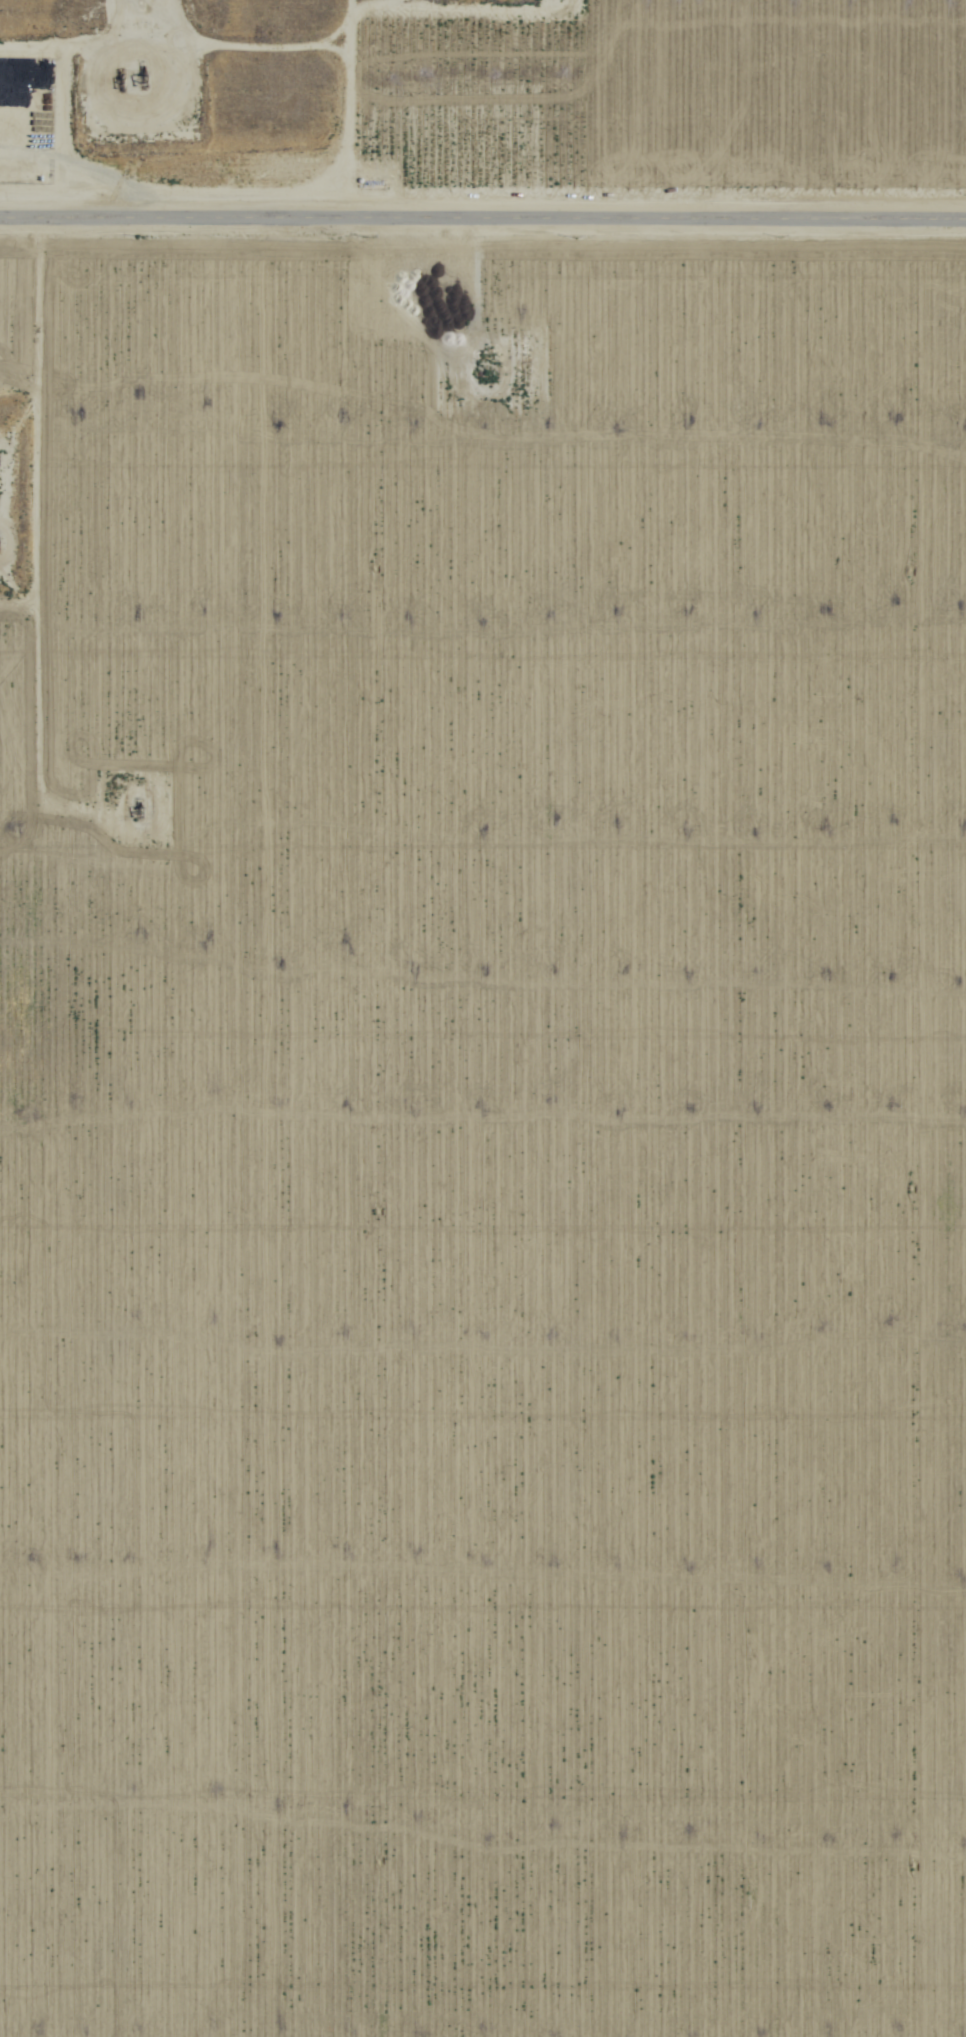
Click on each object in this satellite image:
road: (483, 219)
road: (9, 582)
crop: (494, 1050)

